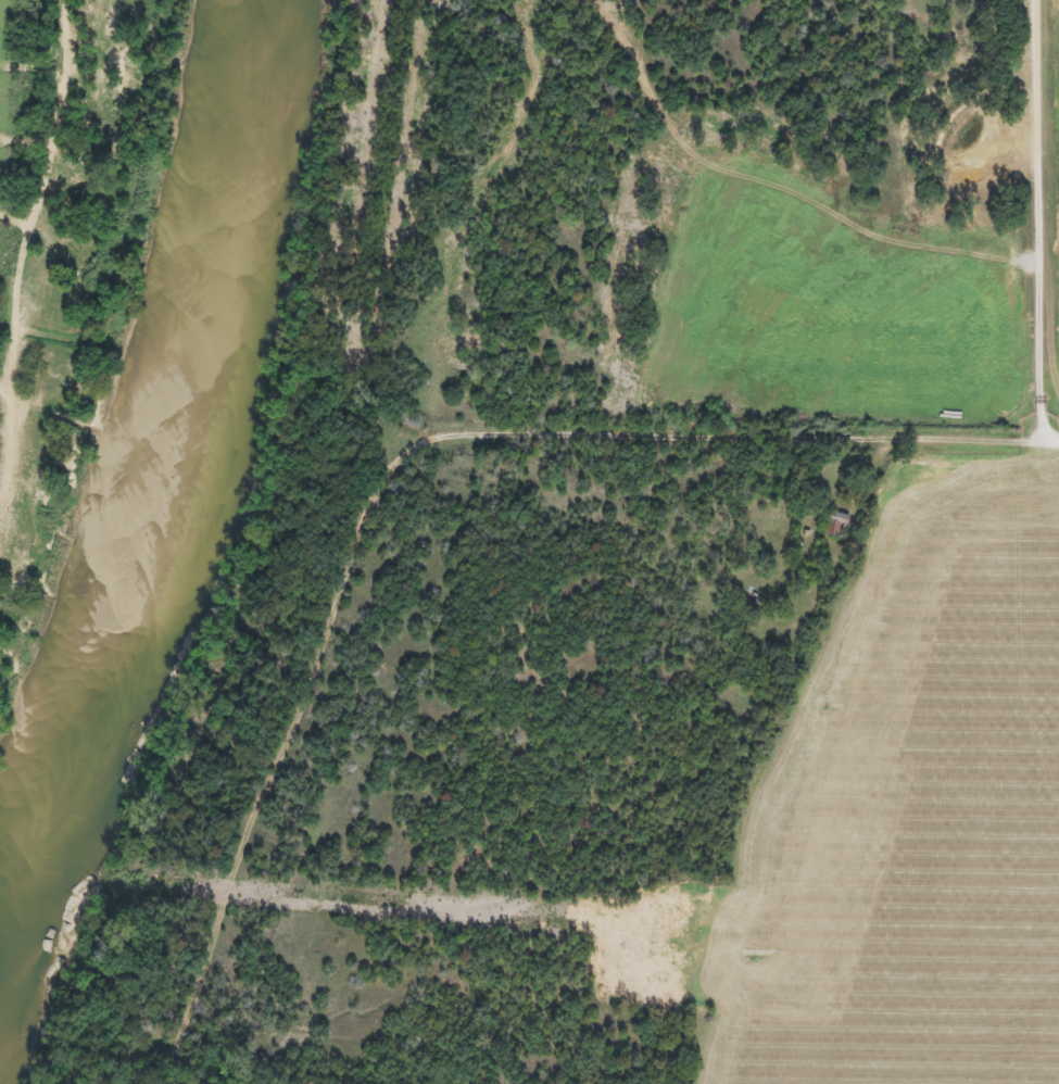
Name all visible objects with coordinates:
road: (1033, 227)
river: (133, 462)
building: (834, 522)

